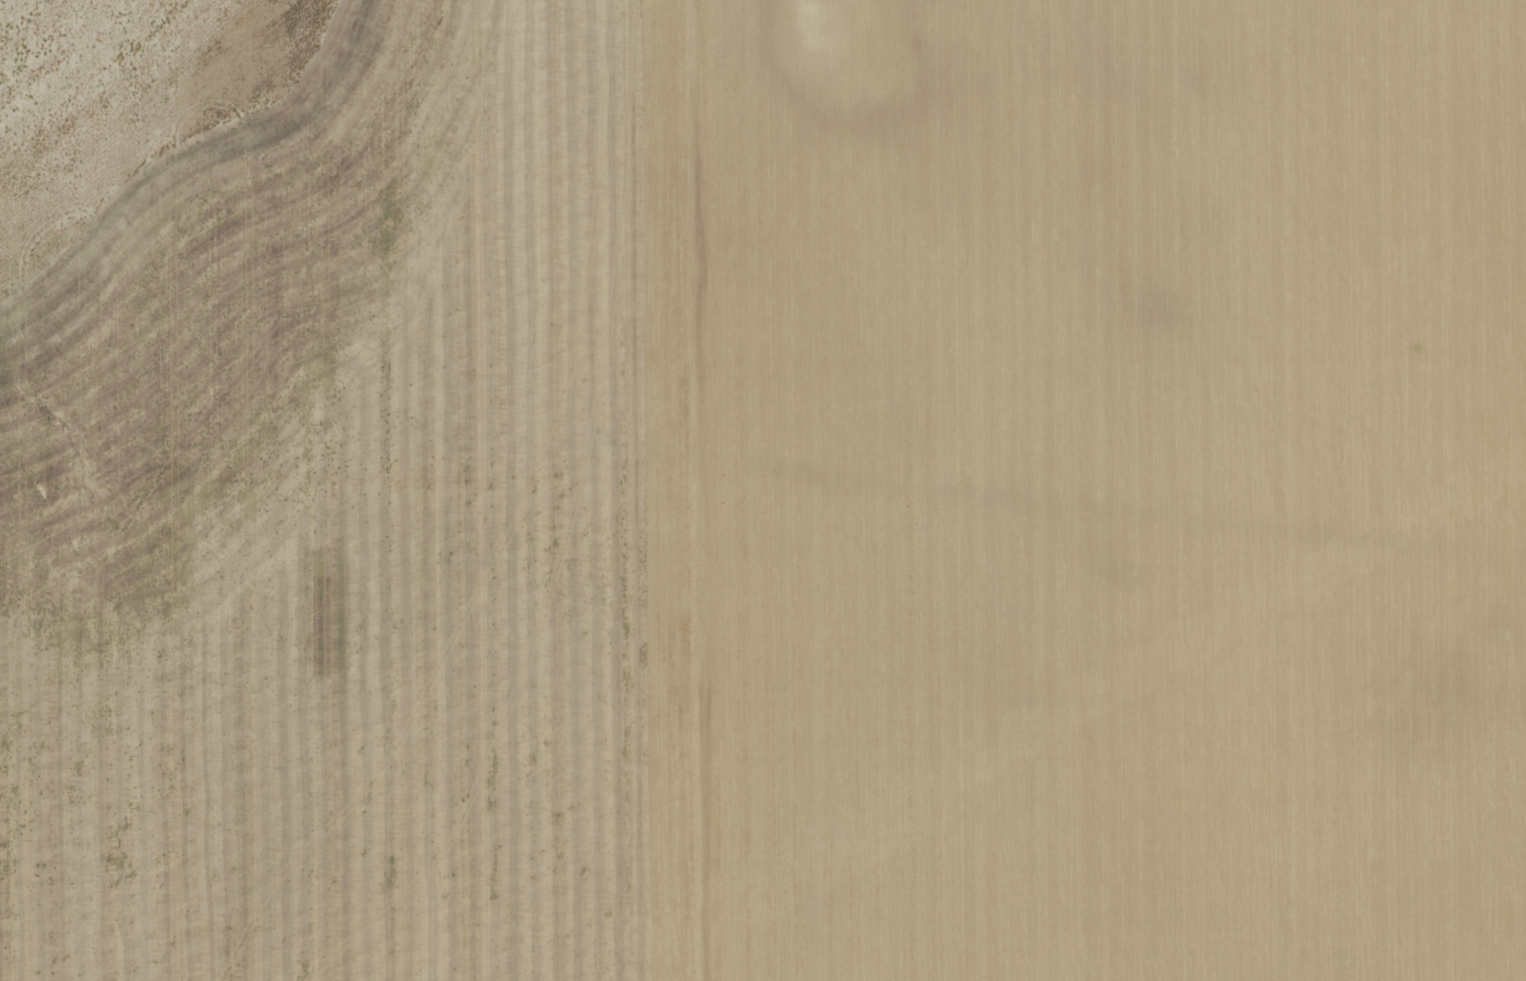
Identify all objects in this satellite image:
road: (895, 14)

